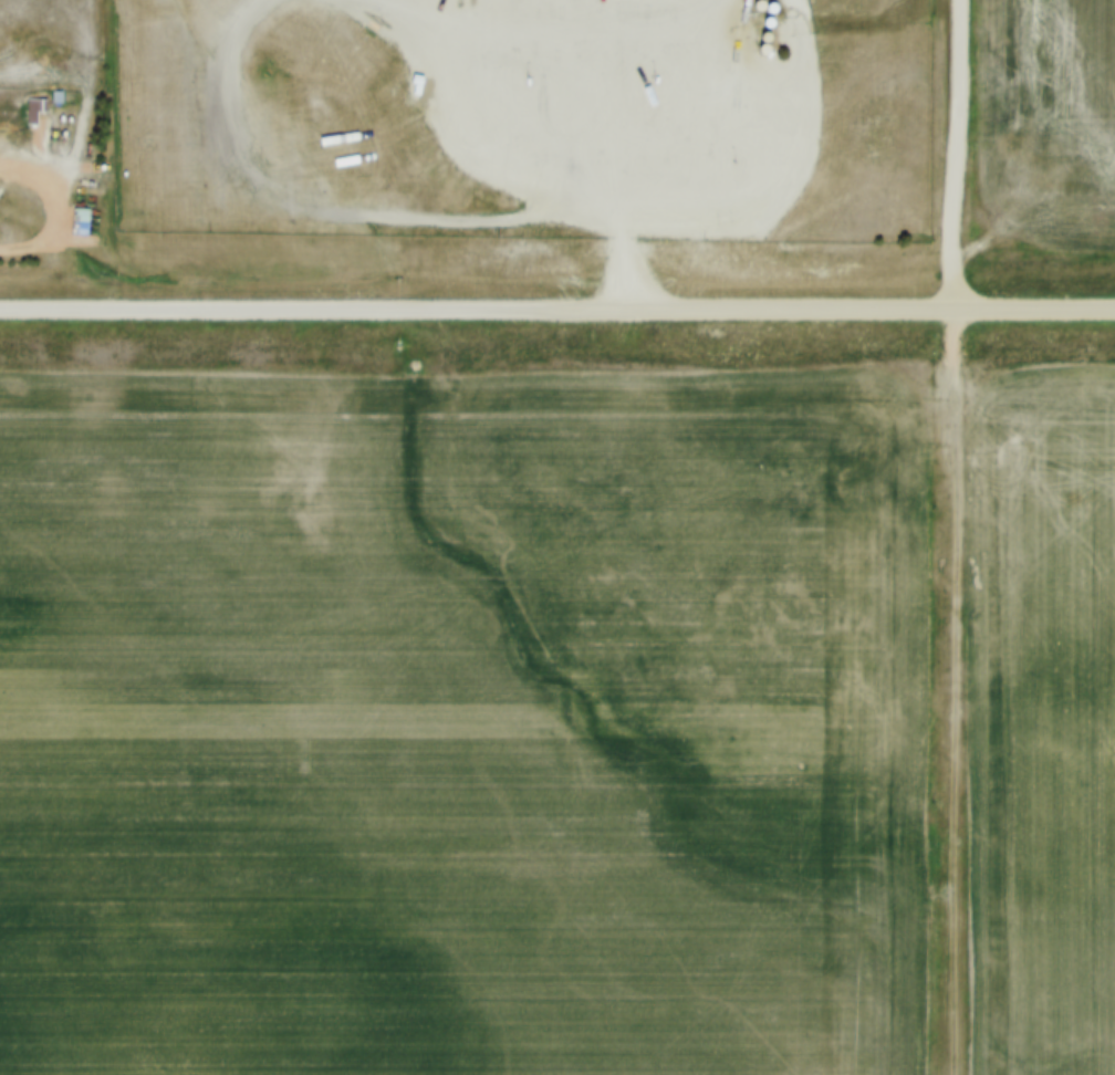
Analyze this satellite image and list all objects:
building: (35, 101)
road: (542, 144)
road: (954, 156)
road: (17, 165)
road: (557, 311)
road: (956, 693)

